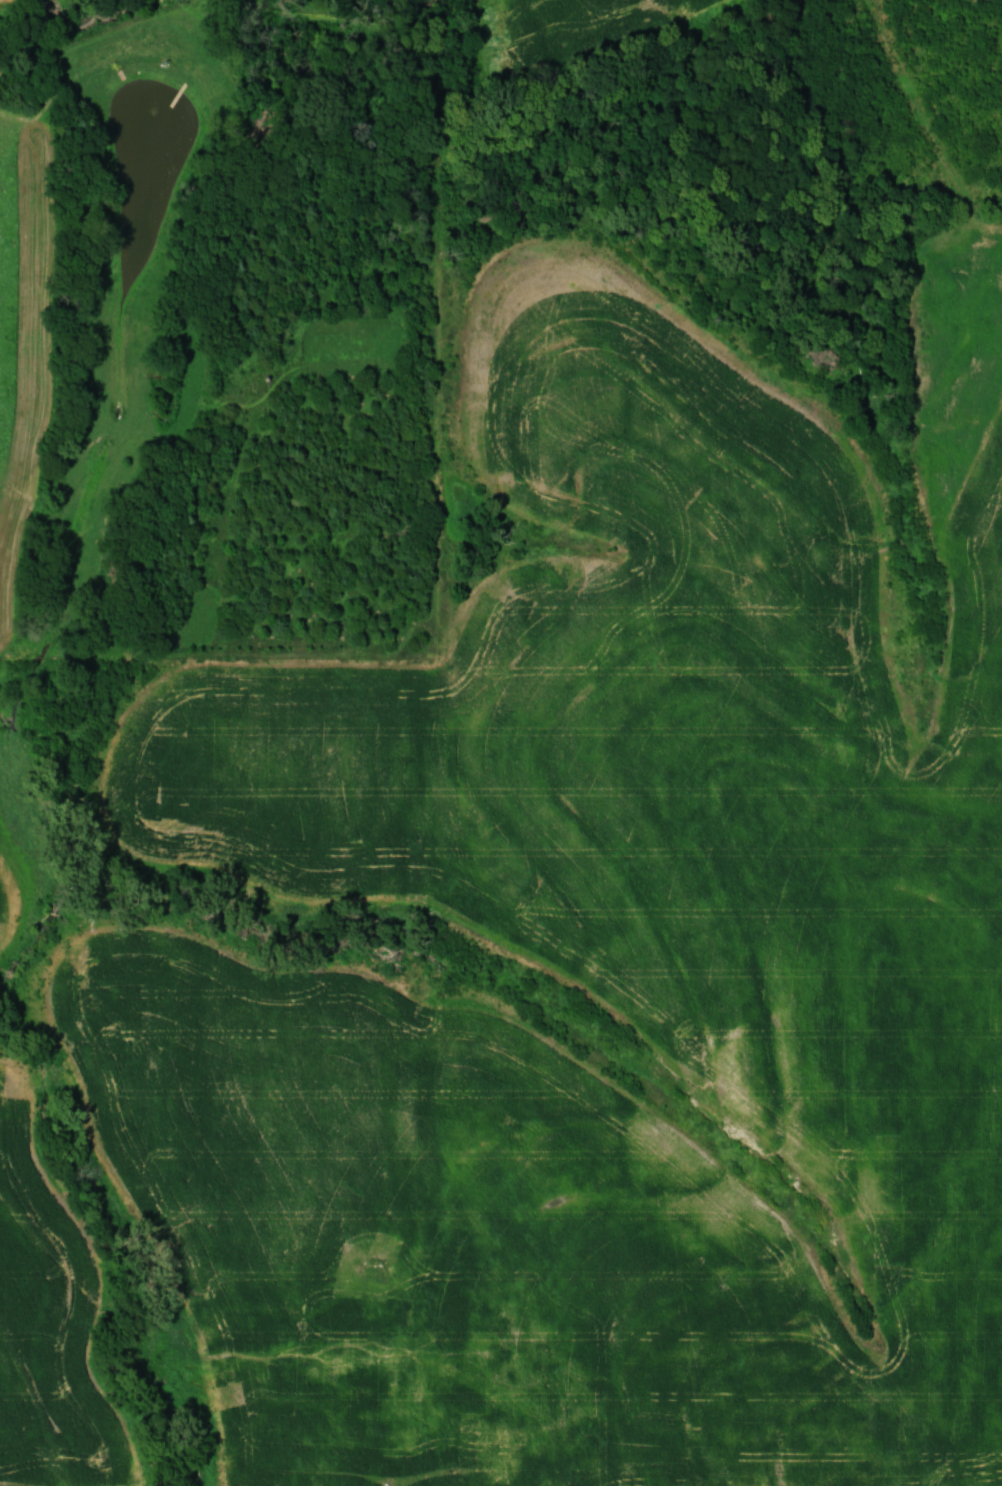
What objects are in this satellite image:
building: (372, 1265)

